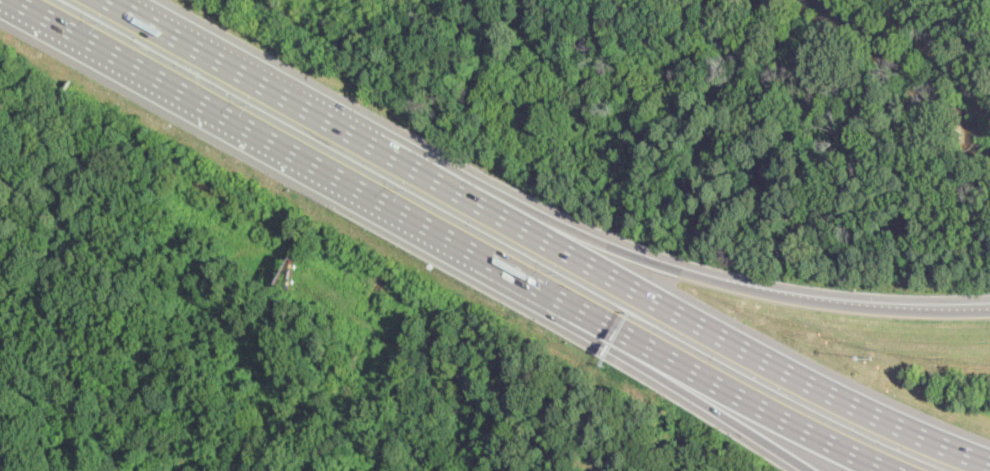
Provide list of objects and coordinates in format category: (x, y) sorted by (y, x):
road: (943, 51)
road: (224, 59)
road: (315, 158)
road: (646, 257)
road: (655, 299)
road: (753, 396)
road: (703, 398)
railway: (5, 451)

